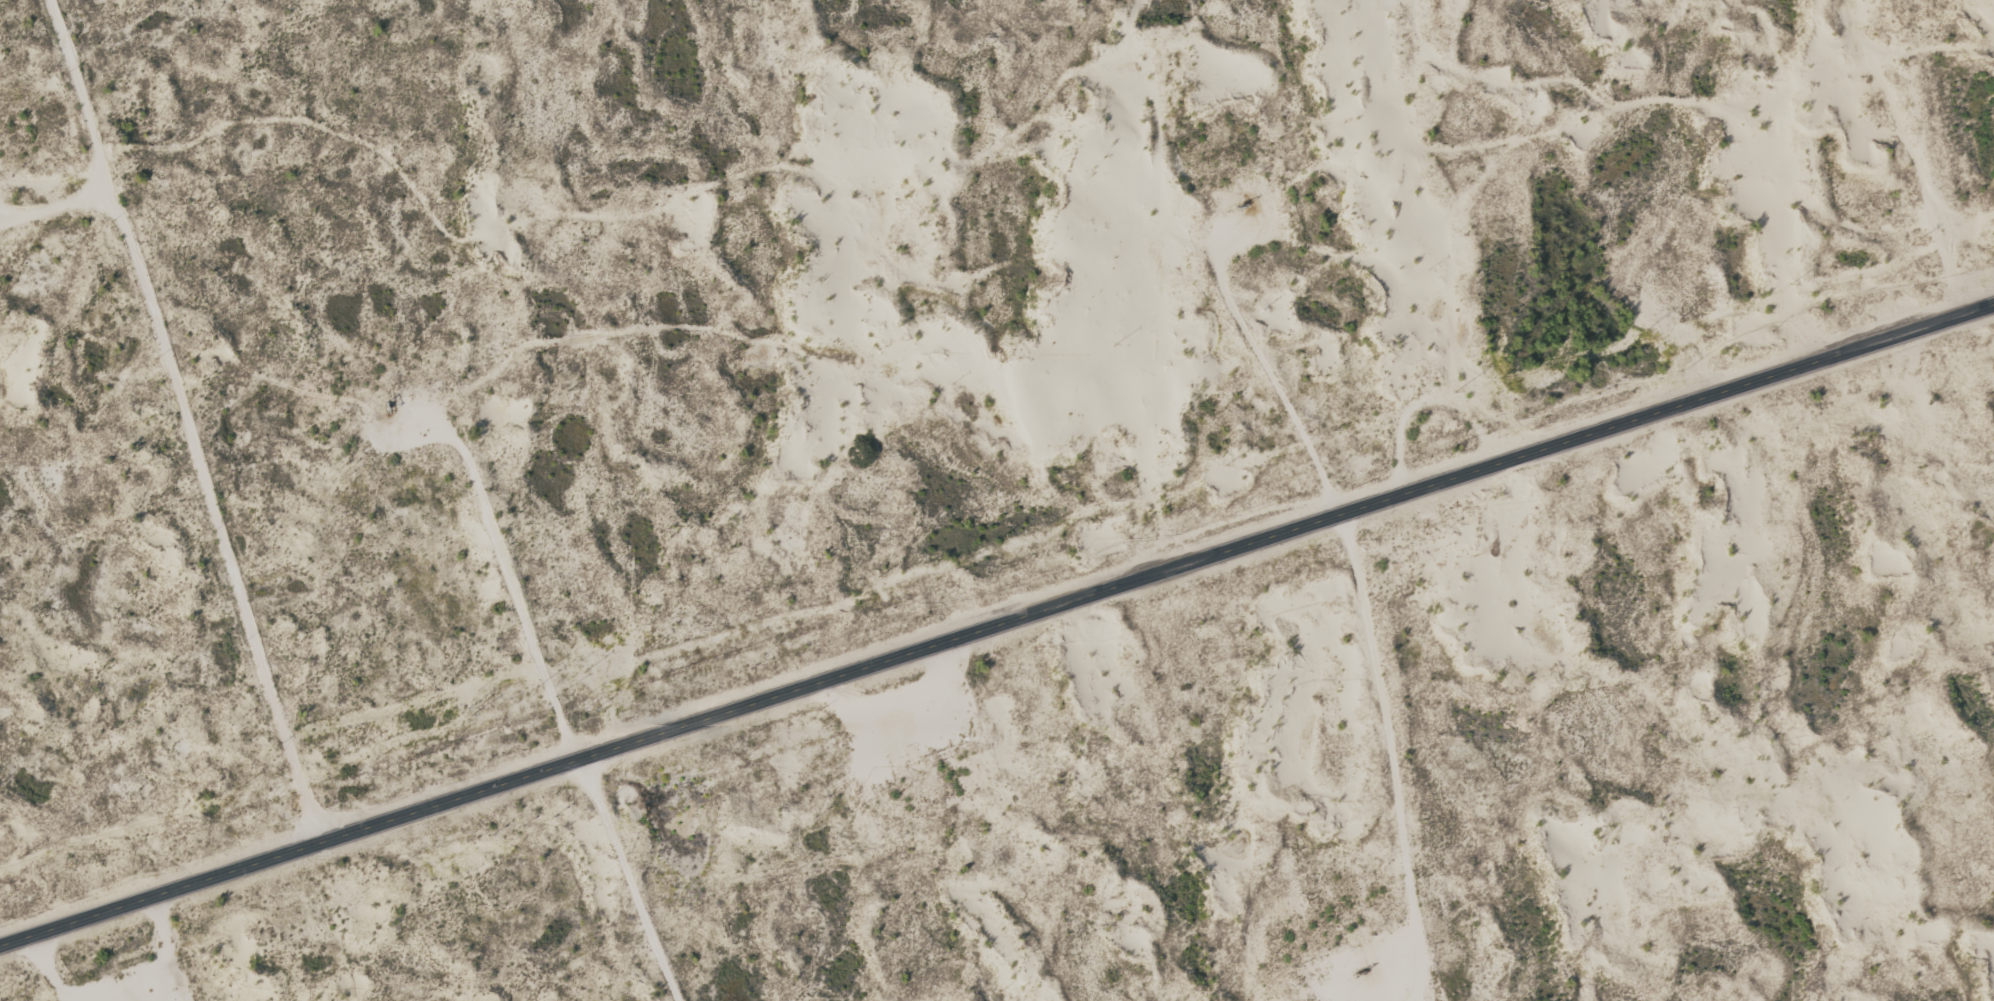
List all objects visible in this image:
road: (997, 623)

